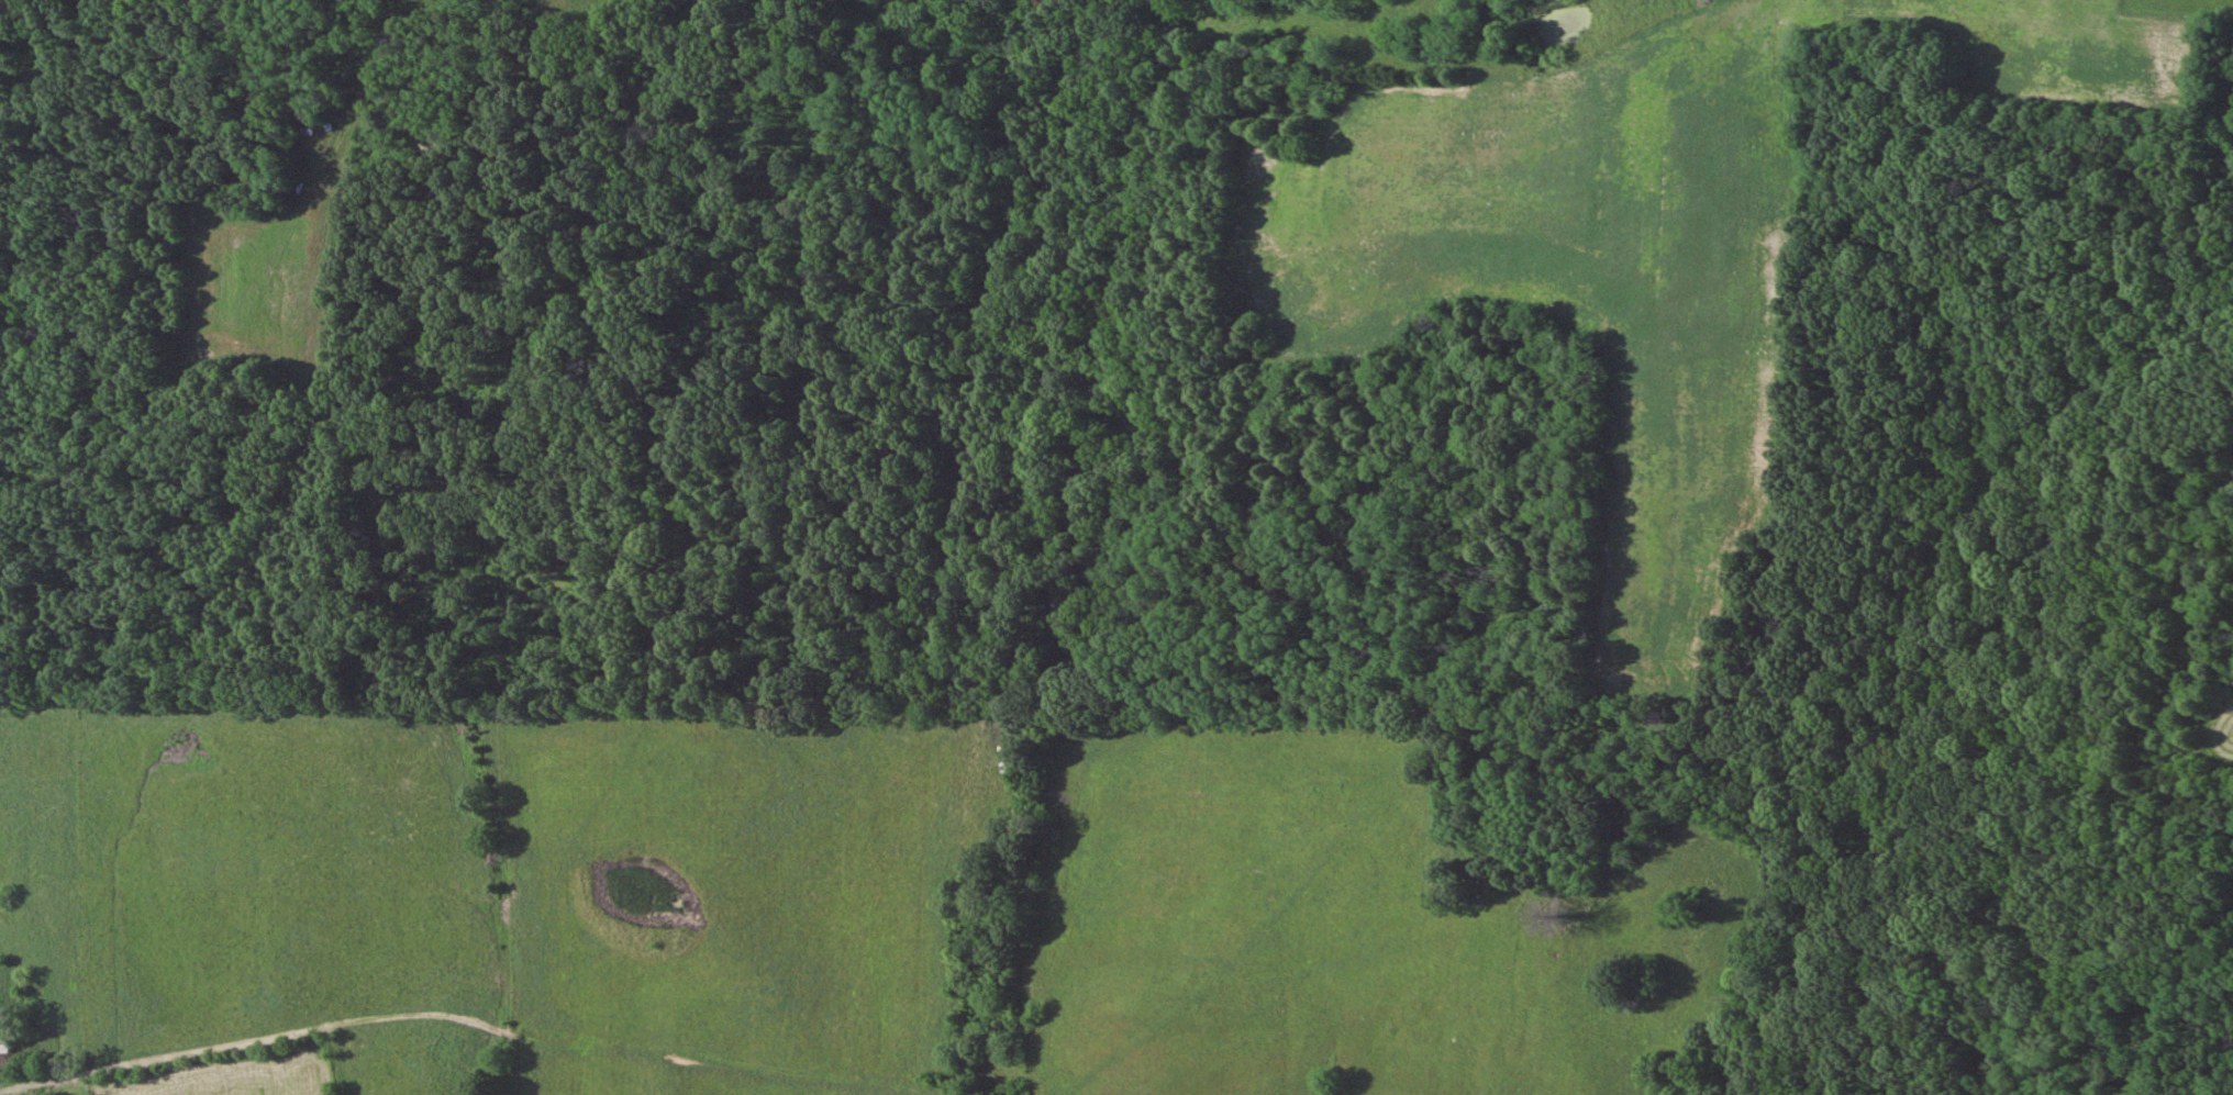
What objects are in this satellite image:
building: (3, 1047)
road: (11, 1081)

